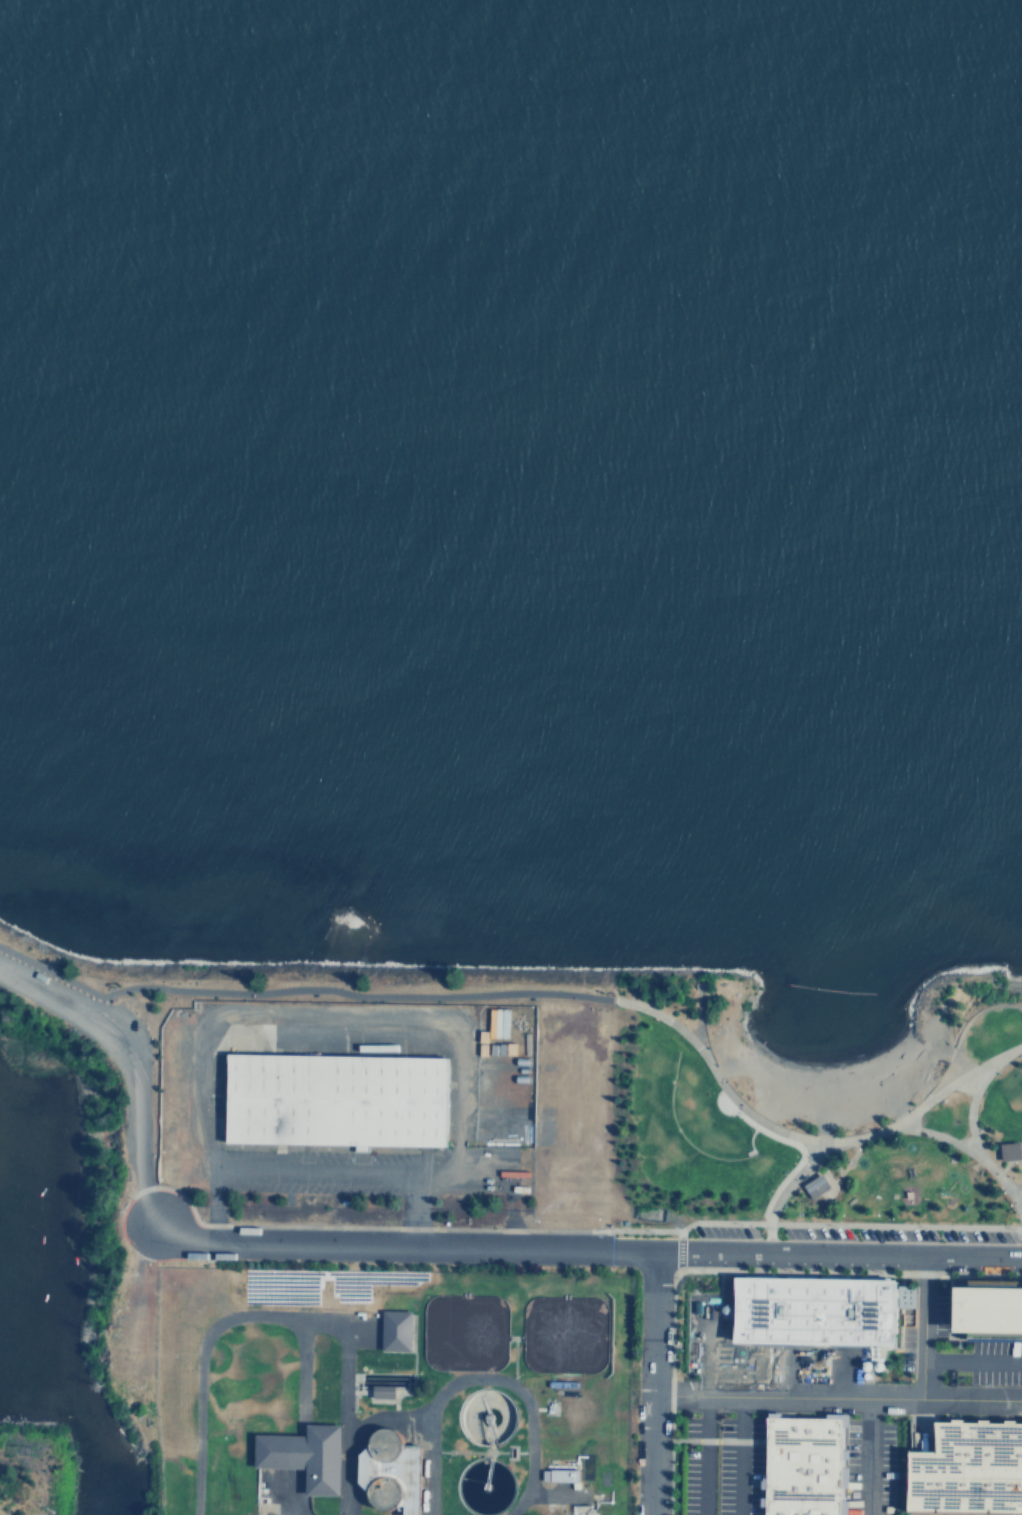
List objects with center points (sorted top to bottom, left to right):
road: (56, 964)
parking lot: (42, 977)
parking lot: (16, 985)
road: (342, 992)
road: (697, 1018)
road: (966, 1021)
road: (129, 1063)
building: (333, 1100)
road: (969, 1108)
park: (777, 1111)
road: (802, 1138)
park: (98, 1146)
road: (852, 1148)
road: (961, 1148)
building: (1011, 1149)
road: (843, 1166)
road: (820, 1169)
road: (1000, 1169)
road: (836, 1173)
road: (312, 1174)
building: (814, 1185)
road: (785, 1186)
road: (830, 1190)
road: (1011, 1199)
road: (212, 1200)
road: (411, 1205)
road: (586, 1239)
building: (994, 1310)
building: (812, 1311)
road: (279, 1316)
road: (916, 1316)
building: (394, 1329)
road: (968, 1348)
road: (301, 1370)
road: (490, 1377)
road: (647, 1378)
road: (834, 1386)
wastewater plant: (401, 1389)
road: (706, 1398)
building: (579, 1407)
storage tank: (579, 1407)
road: (742, 1450)
road: (857, 1450)
building: (301, 1455)
road: (428, 1463)
building: (799, 1465)
park: (33, 1470)
building: (970, 1470)
building: (567, 1475)
road: (286, 1497)
building: (577, 1512)
storage tank: (577, 1512)

